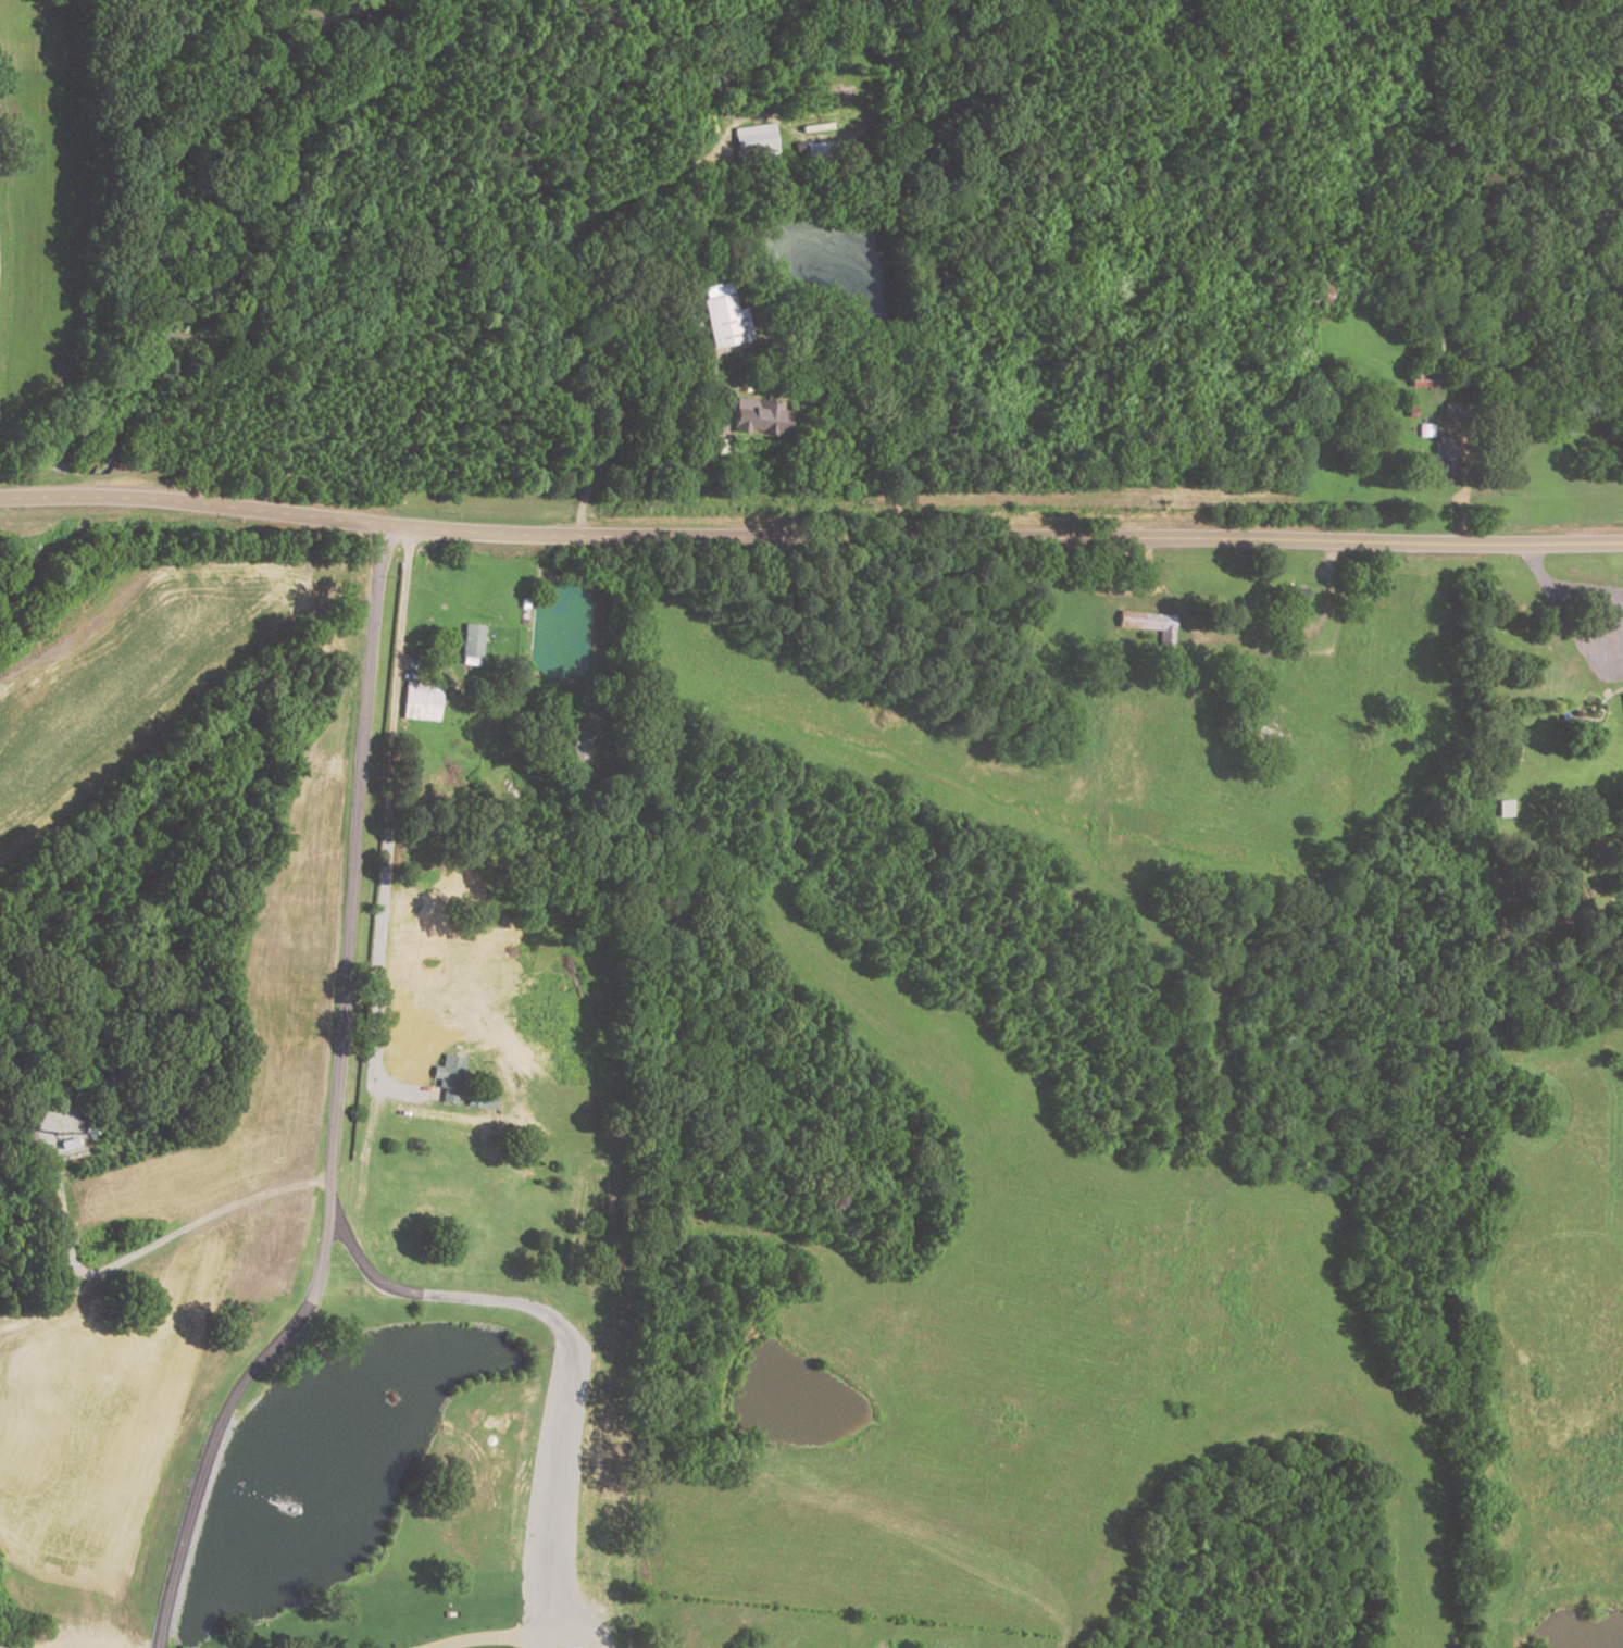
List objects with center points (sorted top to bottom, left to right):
road: (580, 112)
building: (754, 141)
building: (819, 149)
road: (624, 307)
road: (554, 312)
building: (726, 321)
building: (1433, 365)
building: (1447, 412)
building: (1470, 412)
building: (759, 417)
building: (722, 447)
building: (1444, 460)
road: (1465, 489)
road: (28, 497)
road: (87, 497)
road: (869, 537)
road: (1544, 579)
building: (1290, 599)
road: (1599, 599)
building: (1150, 623)
road: (1612, 637)
building: (472, 640)
road: (1161, 656)
building: (421, 700)
building: (1621, 701)
building: (1450, 706)
building: (1264, 738)
road: (1605, 745)
building: (577, 750)
building: (1502, 810)
building: (444, 883)
building: (478, 951)
building: (448, 1076)
building: (480, 1104)
road: (333, 1107)
building: (457, 1128)
road: (360, 1171)
road: (149, 1244)
building: (565, 1532)
road: (565, 1635)
road: (476, 1638)
road: (526, 1640)
building: (571, 1647)

